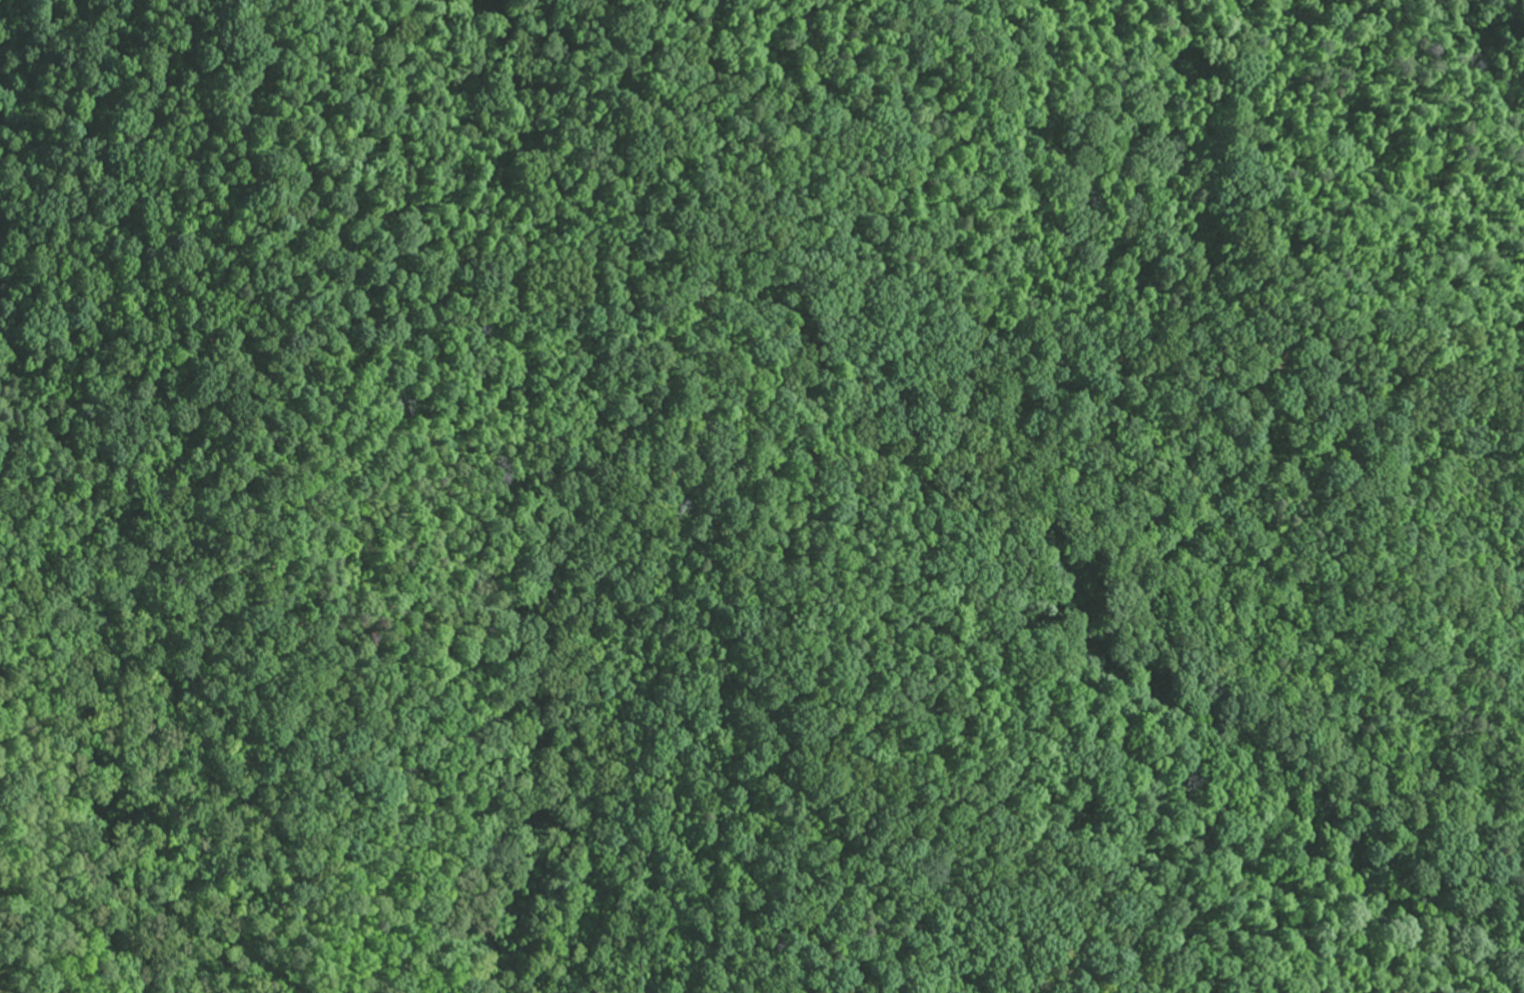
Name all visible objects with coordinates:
park: (1428, 26)

